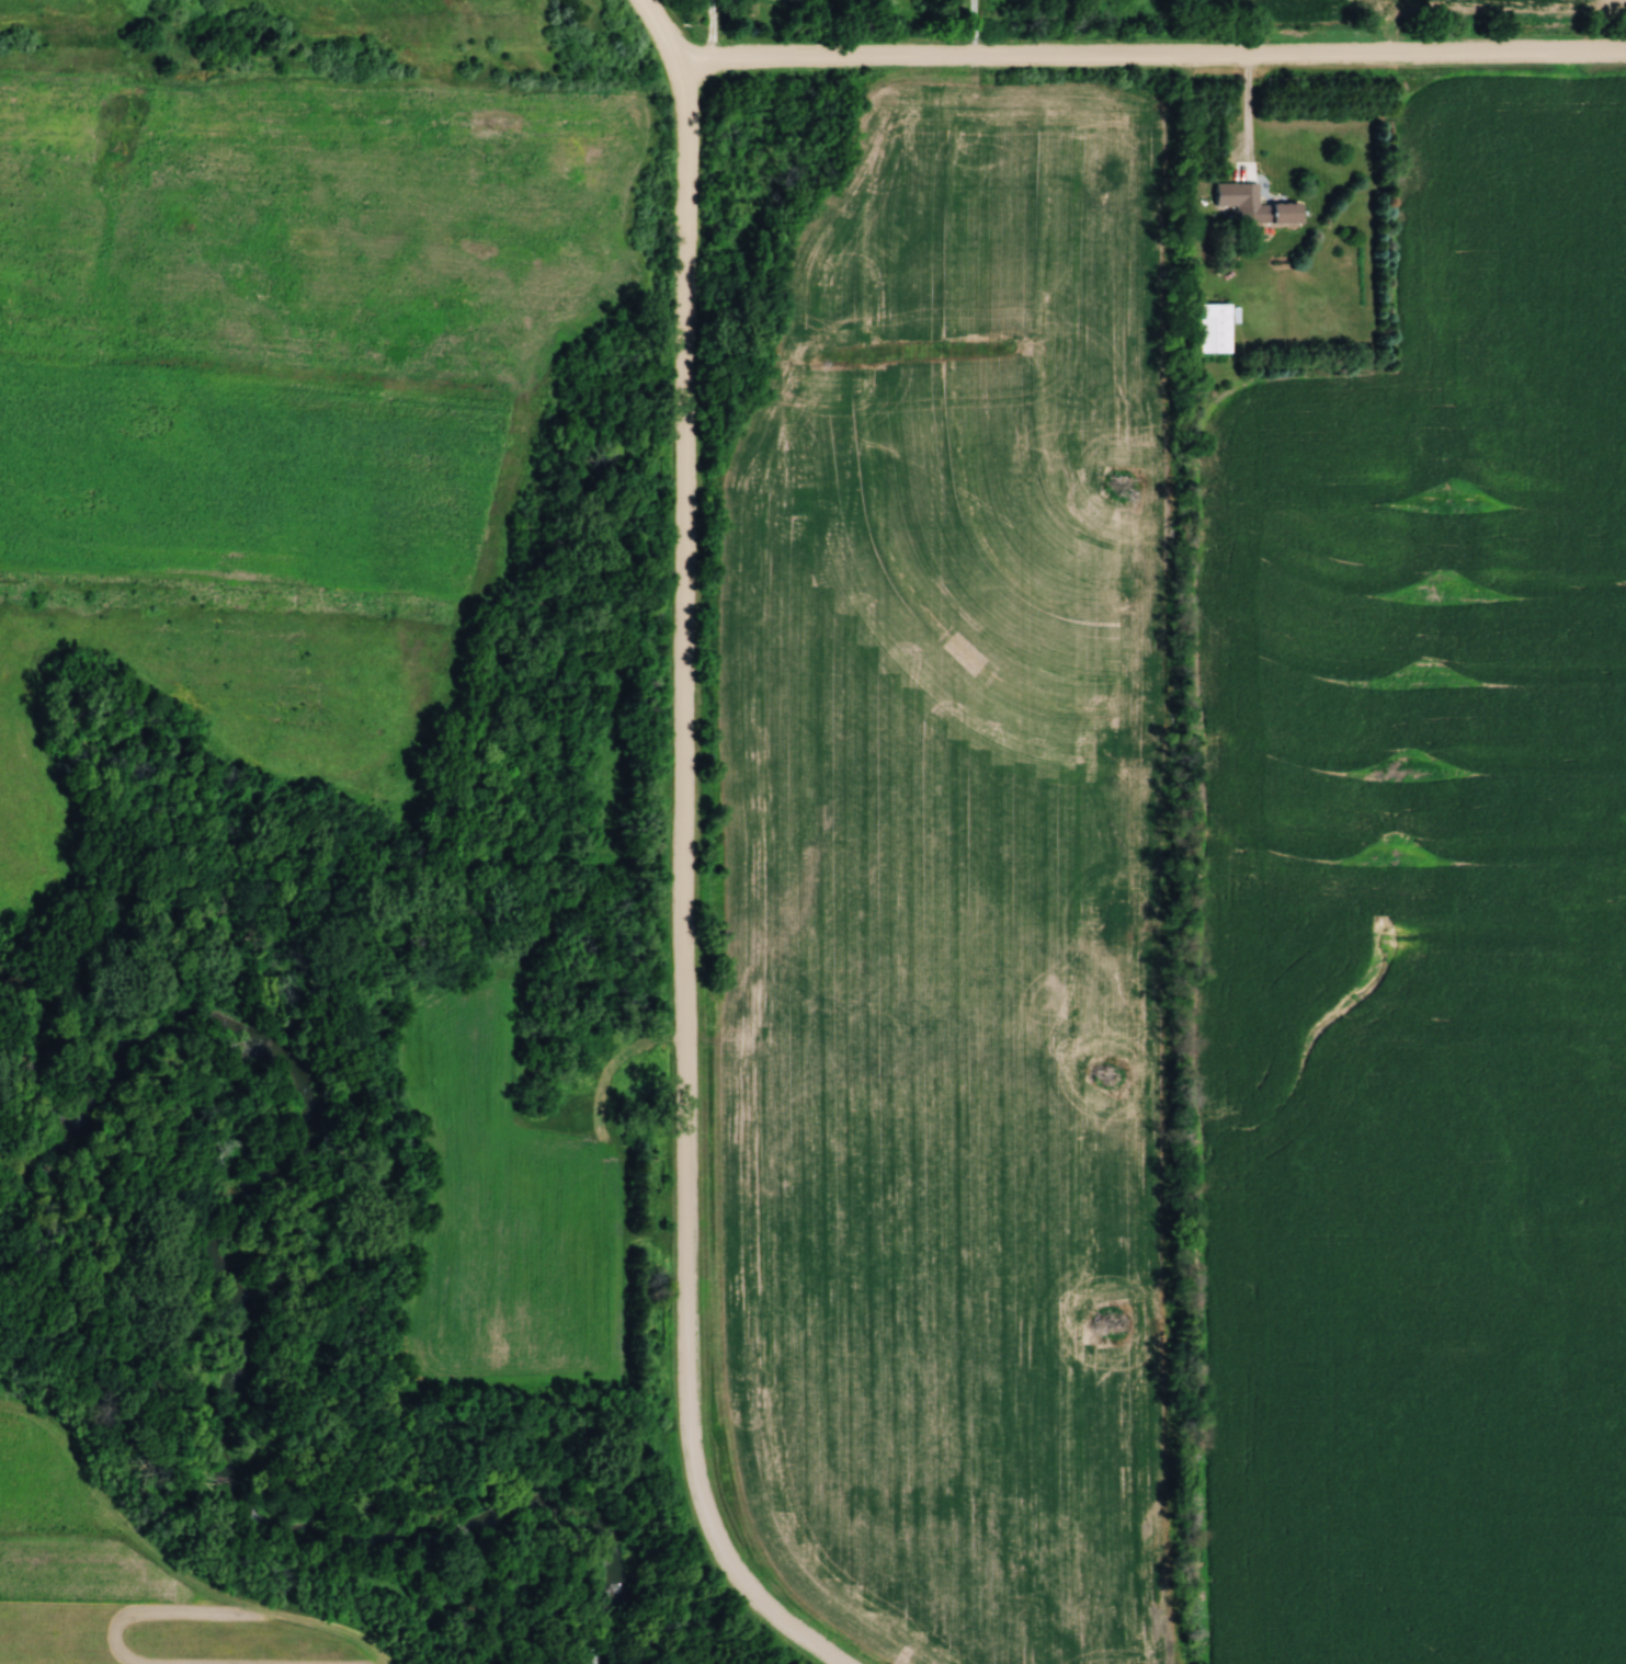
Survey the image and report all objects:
road: (975, 26)
road: (667, 27)
road: (713, 27)
road: (1156, 54)
road: (1249, 118)
building: (1263, 213)
building: (1206, 328)
road: (689, 740)
river: (258, 1340)
road: (739, 1562)

